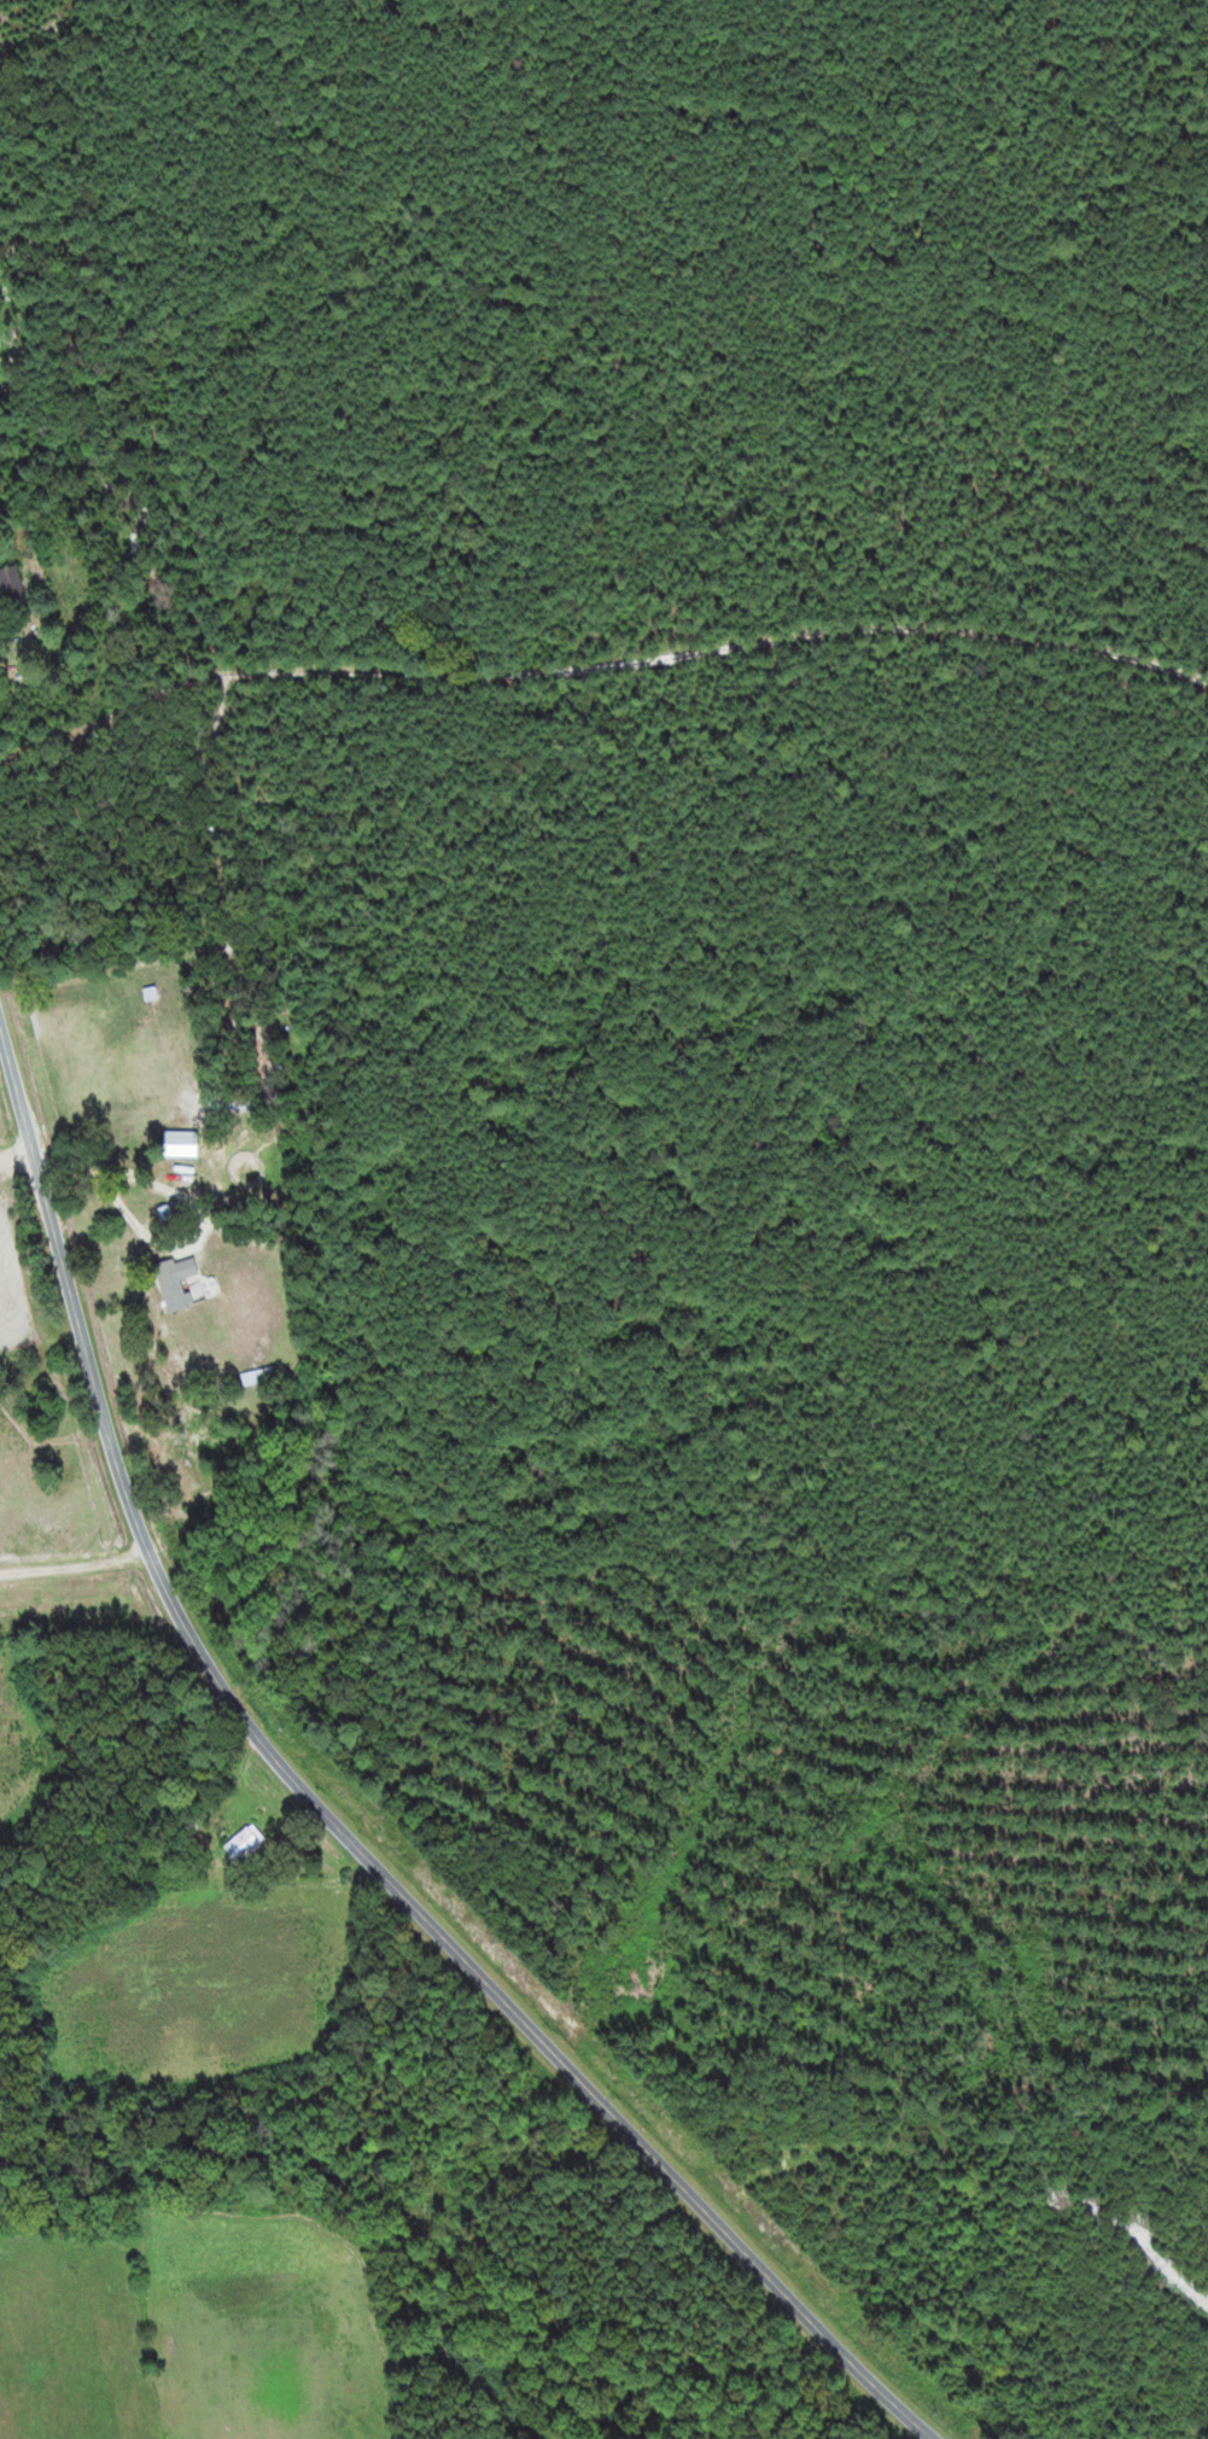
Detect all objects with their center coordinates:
building: (16, 585)
building: (233, 1101)
road: (17, 1160)
building: (181, 1282)
road: (331, 1819)
building: (250, 1844)

